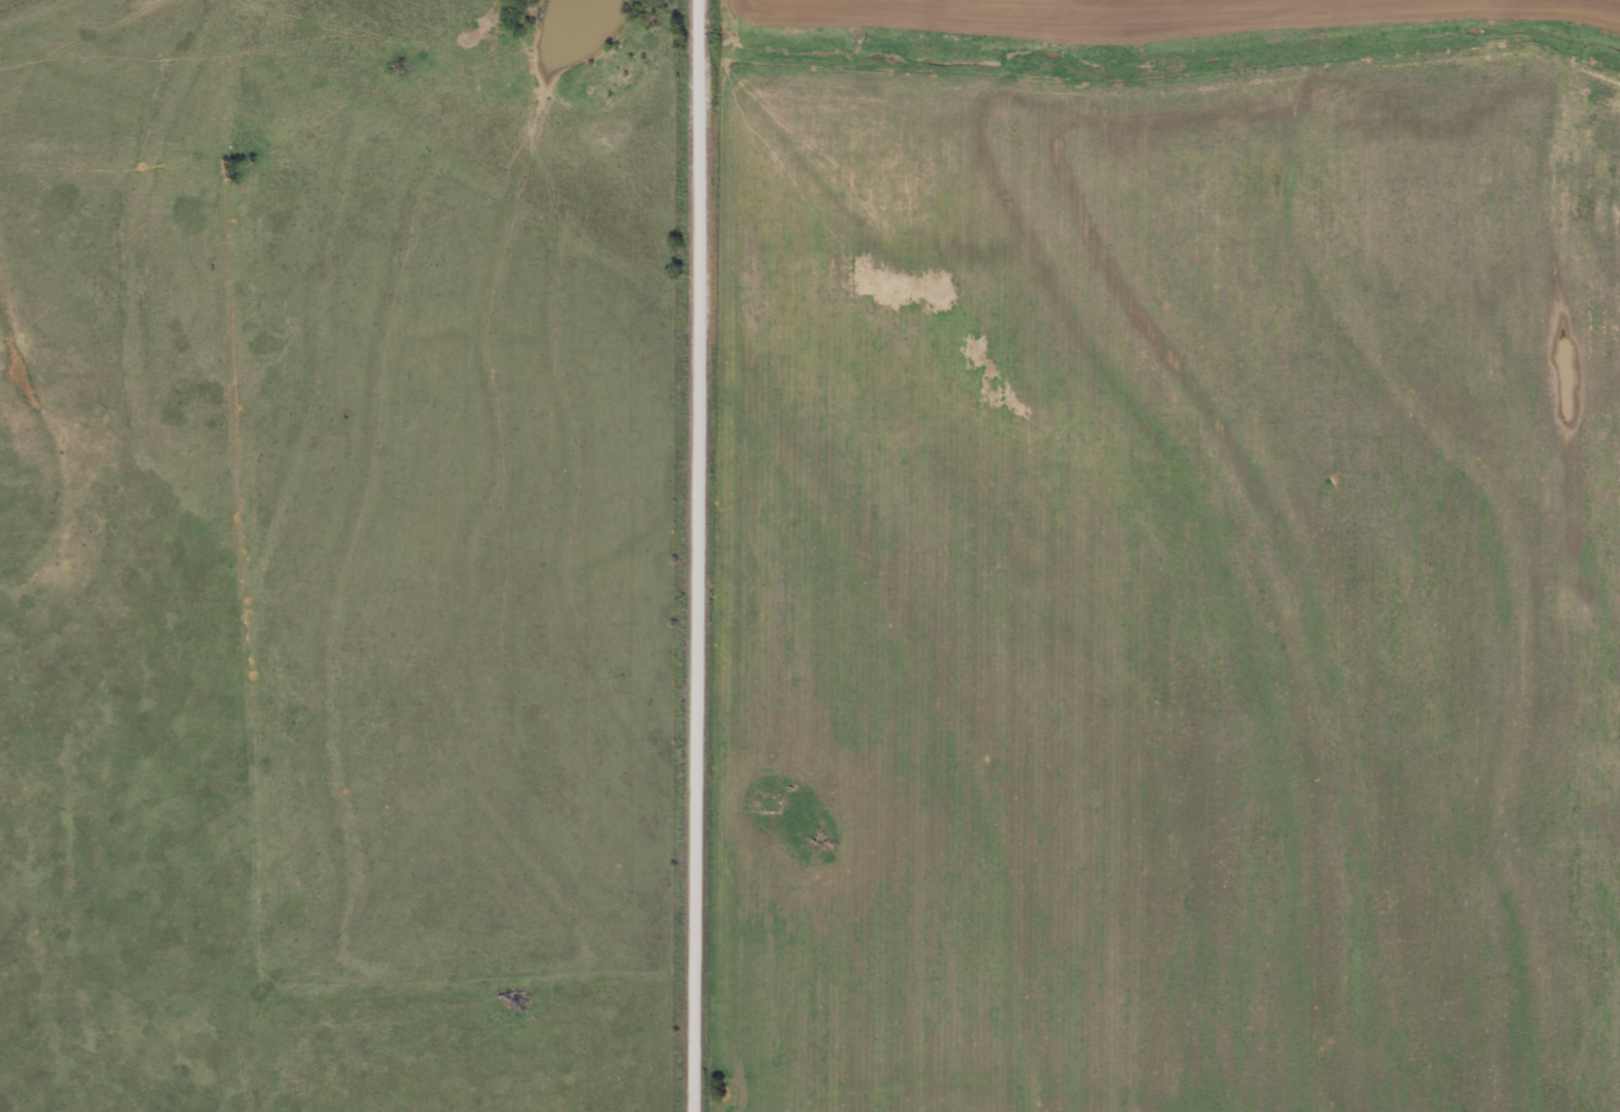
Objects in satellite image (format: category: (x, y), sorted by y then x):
road: (700, 556)

